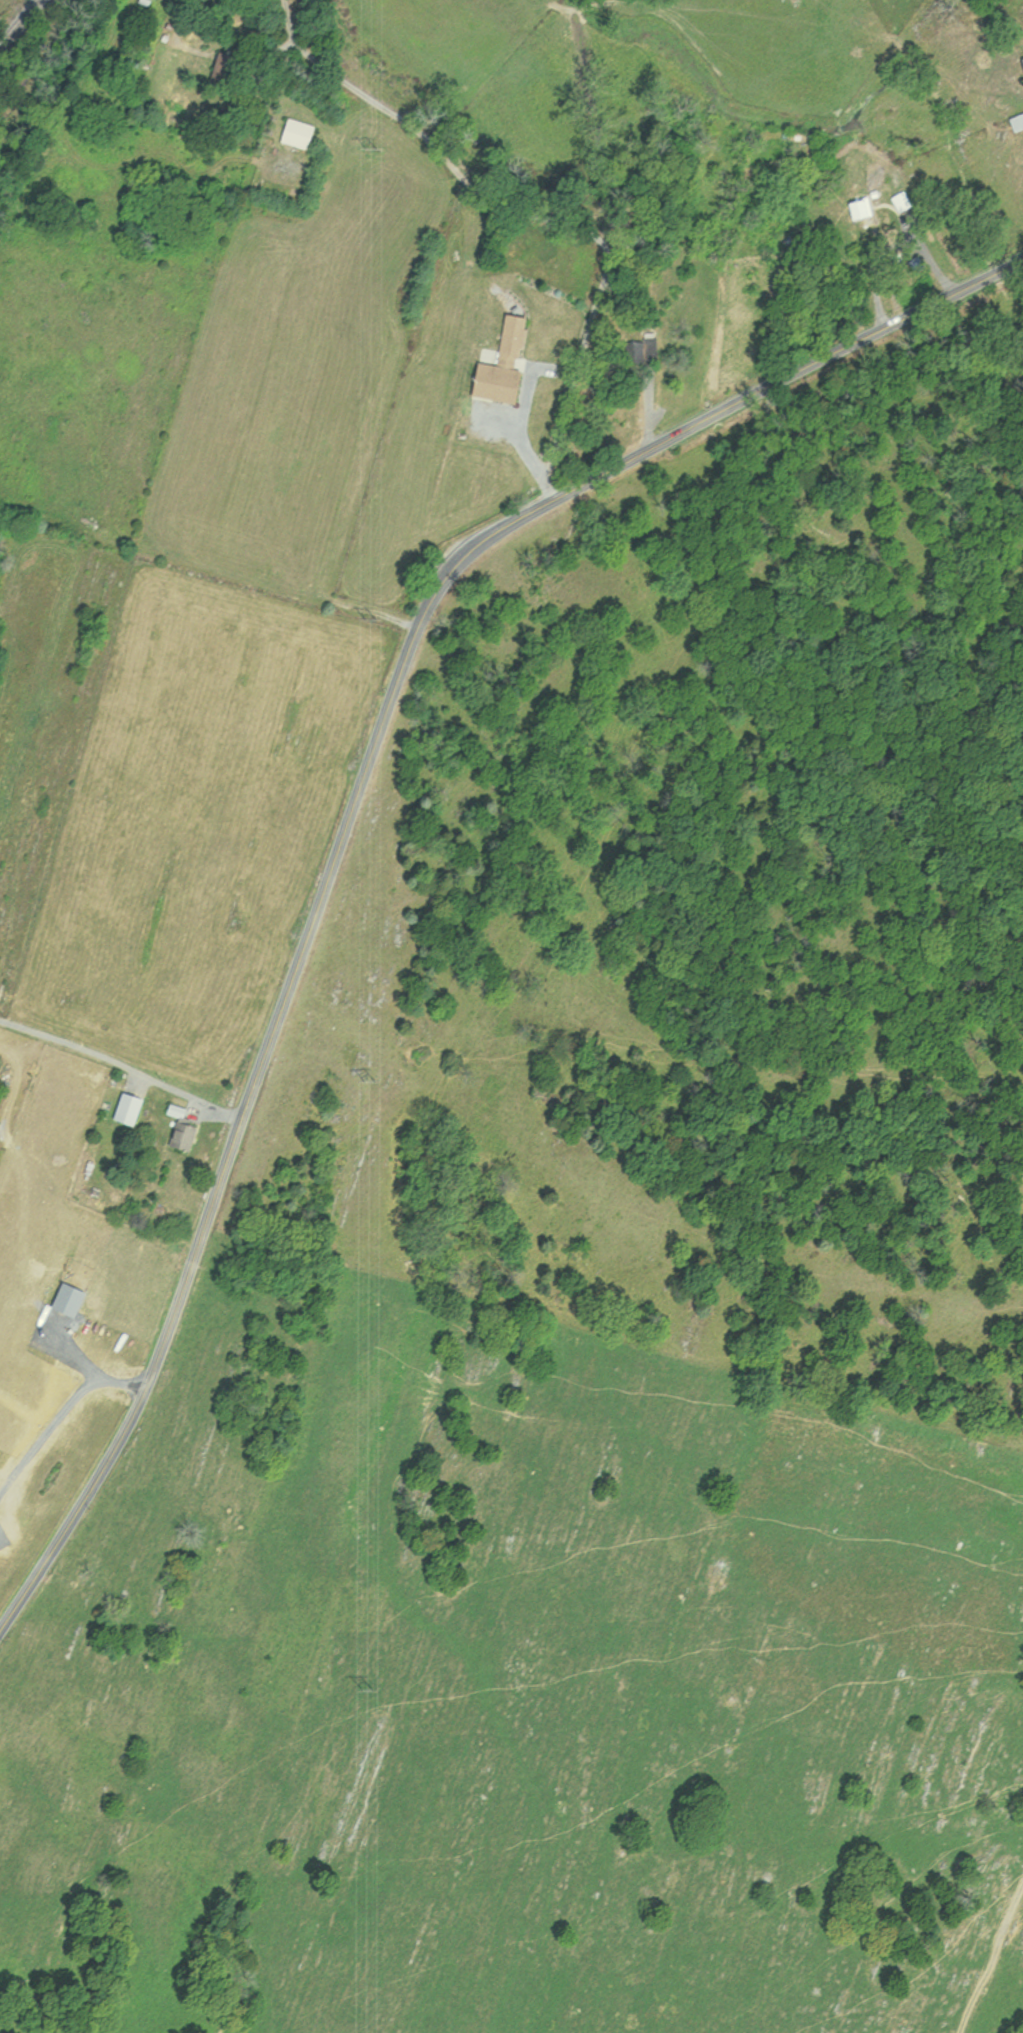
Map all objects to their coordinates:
road: (288, 22)
railway: (19, 23)
building: (1016, 70)
building: (235, 72)
building: (1013, 123)
building: (309, 135)
power tower: (372, 151)
building: (850, 210)
road: (899, 254)
building: (911, 266)
road: (377, 293)
building: (626, 352)
building: (491, 367)
road: (522, 436)
power tower: (370, 618)
road: (361, 802)
road: (125, 1070)
power tower: (367, 1081)
building: (136, 1107)
building: (190, 1134)
power tower: (366, 1687)

